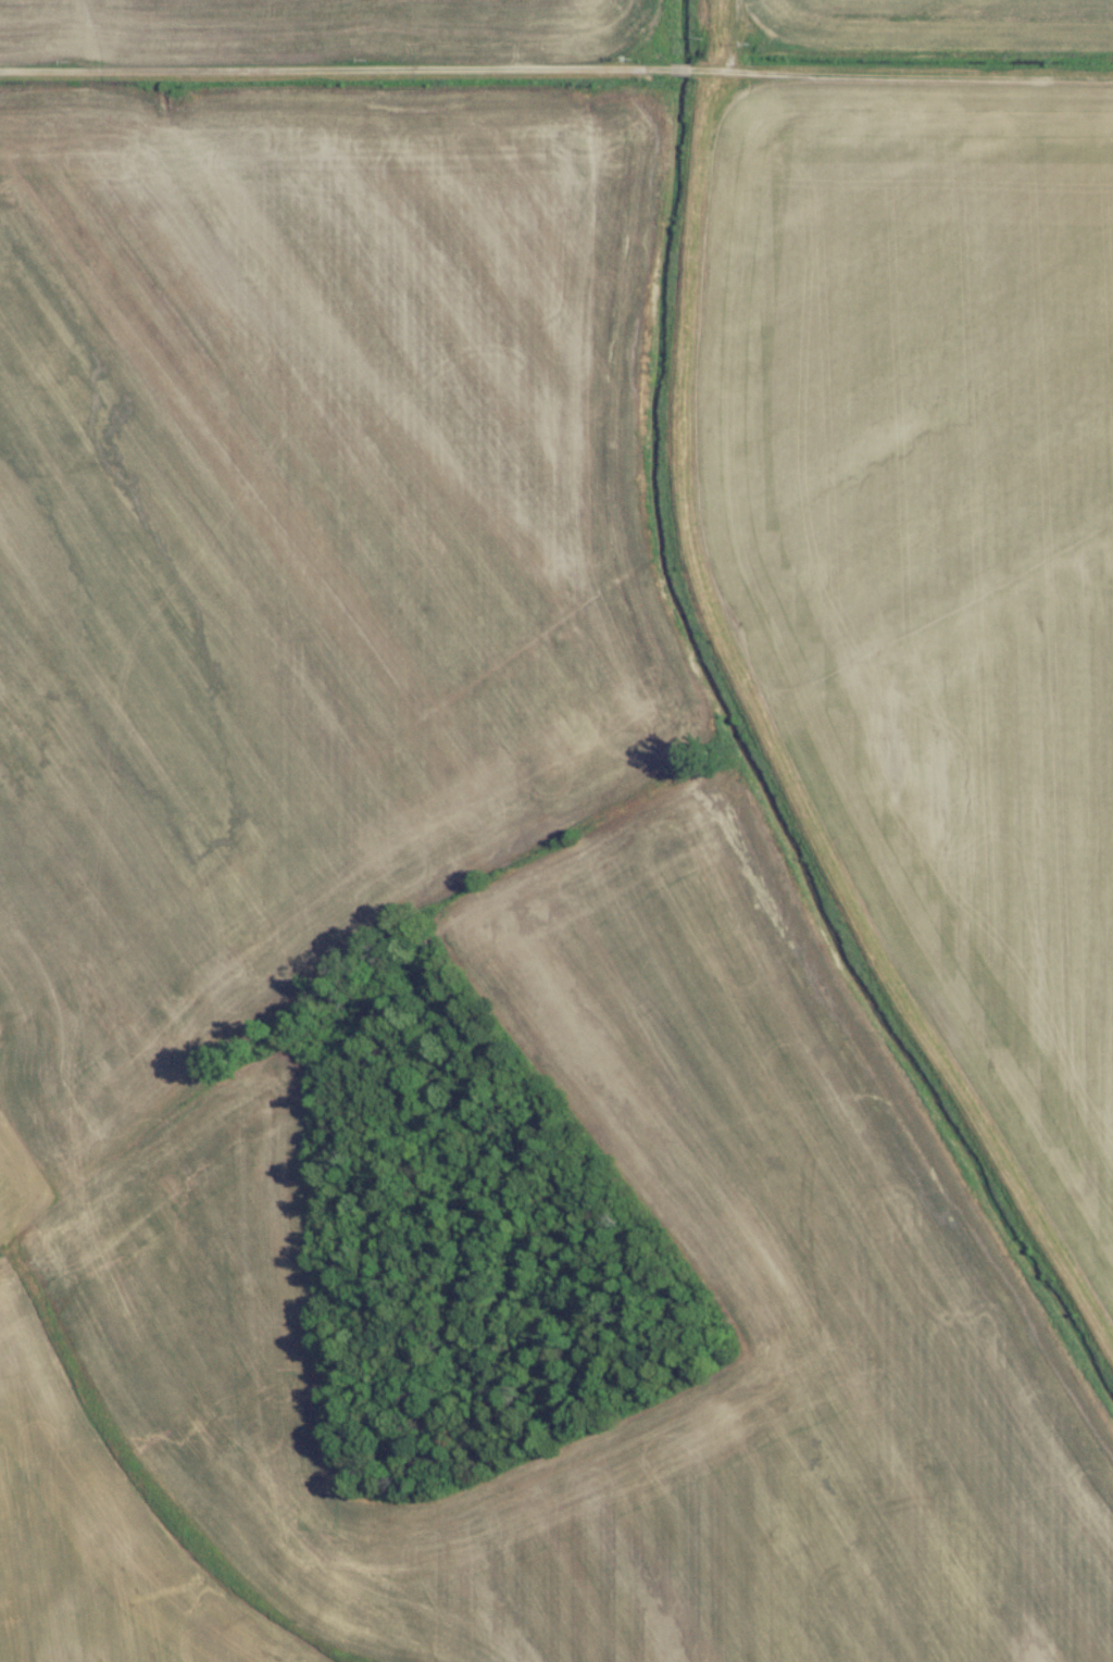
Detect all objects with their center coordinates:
road: (730, 38)
road: (333, 73)
road: (685, 73)
road: (908, 82)

